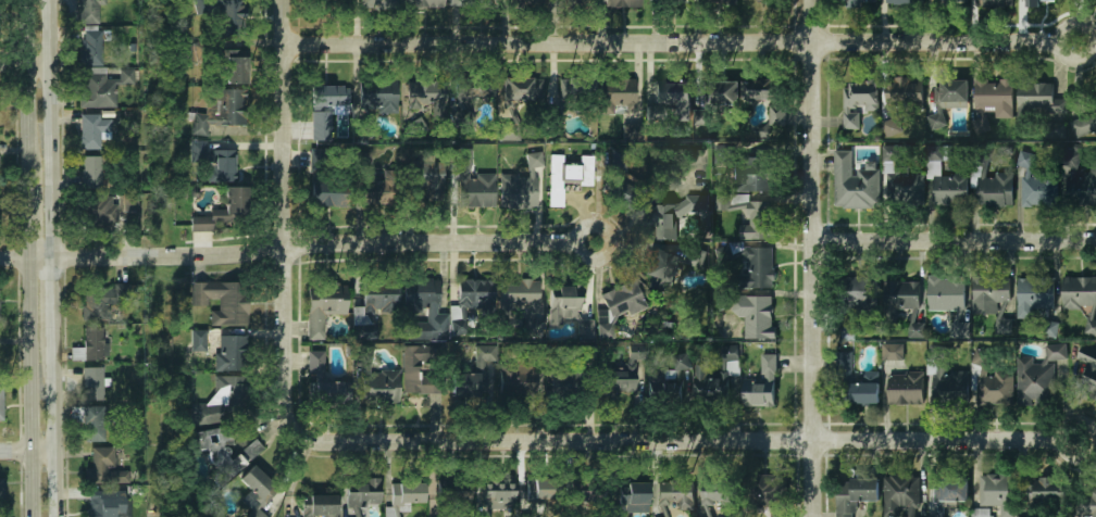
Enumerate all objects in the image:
building: (761, 0)
building: (523, 2)
building: (673, 2)
building: (720, 2)
building: (859, 2)
building: (904, 2)
building: (948, 2)
building: (996, 2)
building: (1035, 2)
building: (327, 3)
building: (378, 3)
building: (425, 3)
building: (473, 3)
building: (578, 3)
building: (622, 3)
building: (87, 11)
building: (228, 12)
road: (678, 43)
road: (2, 65)
road: (26, 65)
building: (90, 70)
building: (235, 70)
road: (23, 72)
building: (126, 76)
building: (472, 87)
building: (580, 88)
building: (522, 89)
building: (671, 92)
building: (725, 92)
building: (425, 93)
building: (327, 94)
building: (906, 94)
building: (377, 96)
building: (767, 96)
building: (614, 97)
building: (948, 100)
building: (992, 100)
building: (1036, 101)
building: (858, 102)
building: (220, 110)
building: (701, 117)
building: (1085, 121)
building: (893, 124)
building: (322, 126)
building: (416, 126)
road: (50, 128)
building: (91, 129)
building: (1059, 130)
building: (509, 131)
building: (197, 151)
building: (363, 160)
building: (618, 160)
building: (223, 165)
building: (555, 172)
building: (92, 173)
building: (751, 175)
building: (425, 178)
building: (852, 181)
building: (899, 181)
building: (322, 182)
building: (1082, 186)
building: (475, 190)
building: (950, 190)
building: (995, 190)
building: (519, 191)
building: (1038, 191)
building: (375, 192)
building: (621, 193)
road: (25, 201)
building: (129, 205)
building: (224, 210)
building: (97, 211)
road: (283, 216)
building: (672, 223)
building: (759, 223)
road: (952, 242)
road: (299, 243)
road: (3, 257)
road: (809, 258)
building: (668, 267)
building: (755, 270)
building: (989, 293)
building: (1035, 293)
building: (1079, 293)
building: (946, 294)
building: (898, 298)
building: (102, 299)
building: (470, 300)
building: (223, 301)
building: (523, 301)
building: (852, 303)
road: (52, 305)
building: (323, 305)
building: (618, 307)
building: (423, 308)
building: (568, 311)
building: (375, 312)
building: (751, 314)
building: (0, 317)
building: (918, 326)
building: (1006, 326)
building: (1091, 327)
building: (962, 329)
building: (198, 341)
building: (88, 345)
building: (231, 352)
building: (893, 353)
building: (315, 363)
building: (626, 371)
building: (415, 373)
building: (474, 374)
building: (1087, 375)
building: (1039, 377)
building: (516, 378)
building: (945, 379)
building: (571, 381)
building: (673, 381)
building: (717, 381)
building: (91, 383)
building: (856, 383)
building: (761, 386)
road: (30, 387)
building: (382, 387)
building: (905, 388)
building: (995, 388)
building: (329, 392)
building: (219, 401)
building: (1, 402)
building: (89, 420)
road: (53, 434)
road: (685, 441)
road: (4, 450)
road: (32, 450)
building: (224, 452)
building: (101, 468)
building: (258, 486)
building: (950, 490)
building: (1, 491)
building: (458, 491)
building: (995, 491)
building: (1045, 491)
building: (363, 493)
building: (406, 493)
building: (538, 493)
building: (719, 494)
building: (767, 494)
building: (854, 494)
building: (674, 495)
building: (901, 495)
building: (498, 496)
building: (632, 501)
building: (104, 503)
building: (586, 503)
building: (320, 505)
building: (1086, 505)
building: (983, 513)
building: (256, 514)
building: (939, 516)

